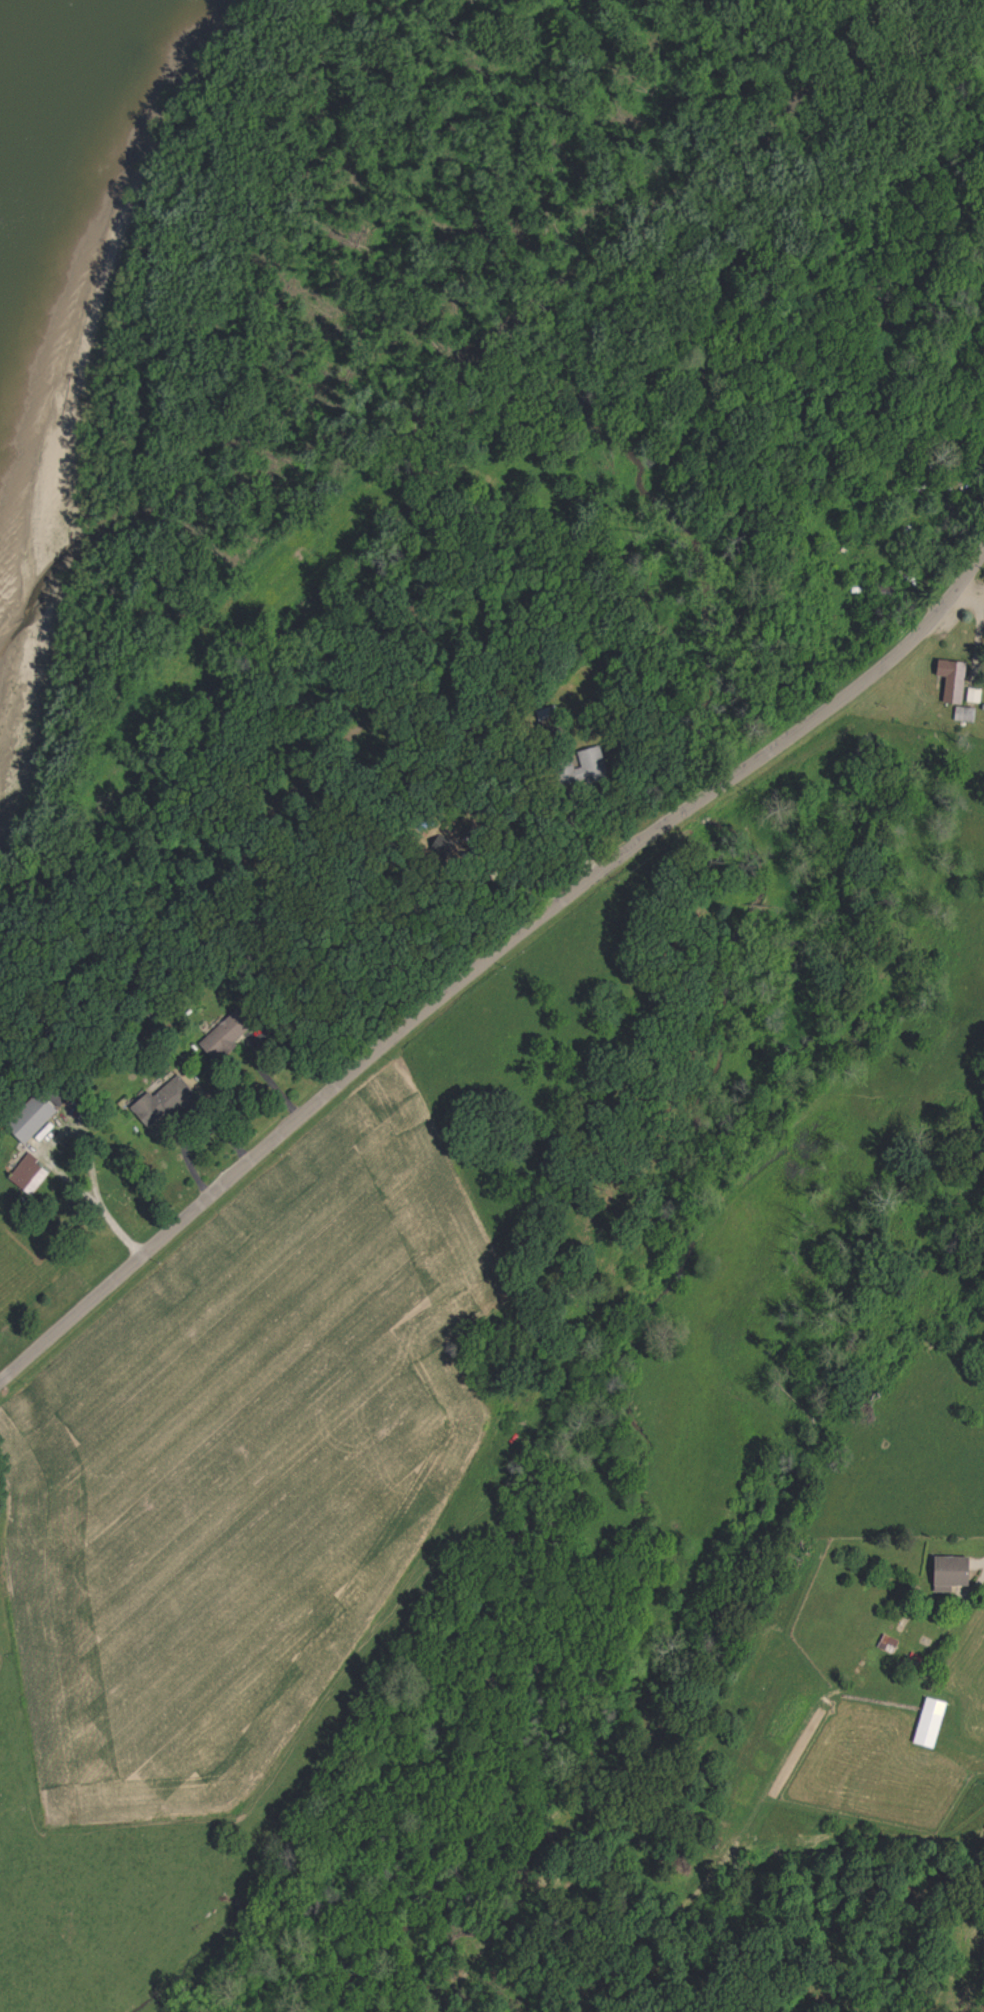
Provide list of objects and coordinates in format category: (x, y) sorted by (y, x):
river: (21, 115)
building: (953, 681)
building: (975, 697)
building: (581, 769)
road: (487, 944)
building: (223, 1039)
building: (161, 1105)
building: (30, 1120)
building: (28, 1176)
road: (948, 1553)
building: (950, 1575)
building: (889, 1645)
building: (930, 1725)

